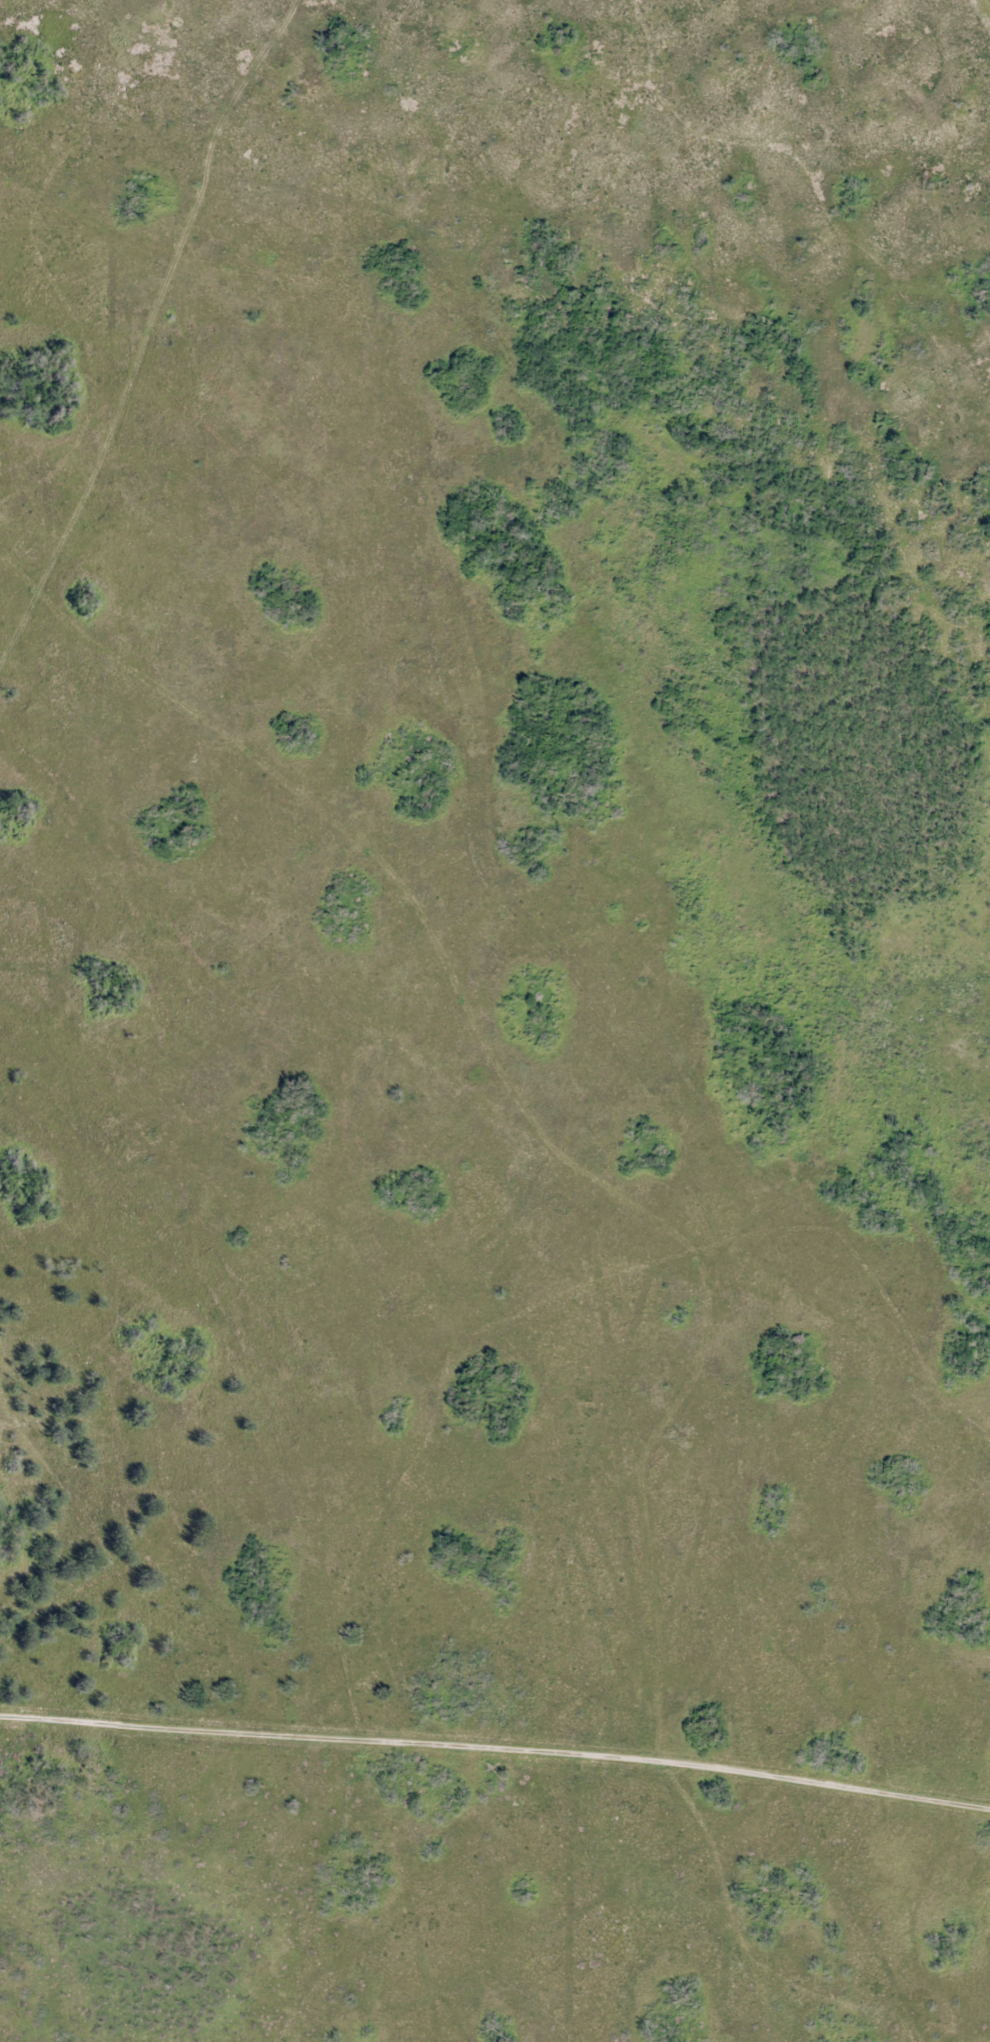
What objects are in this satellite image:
road: (496, 1731)

